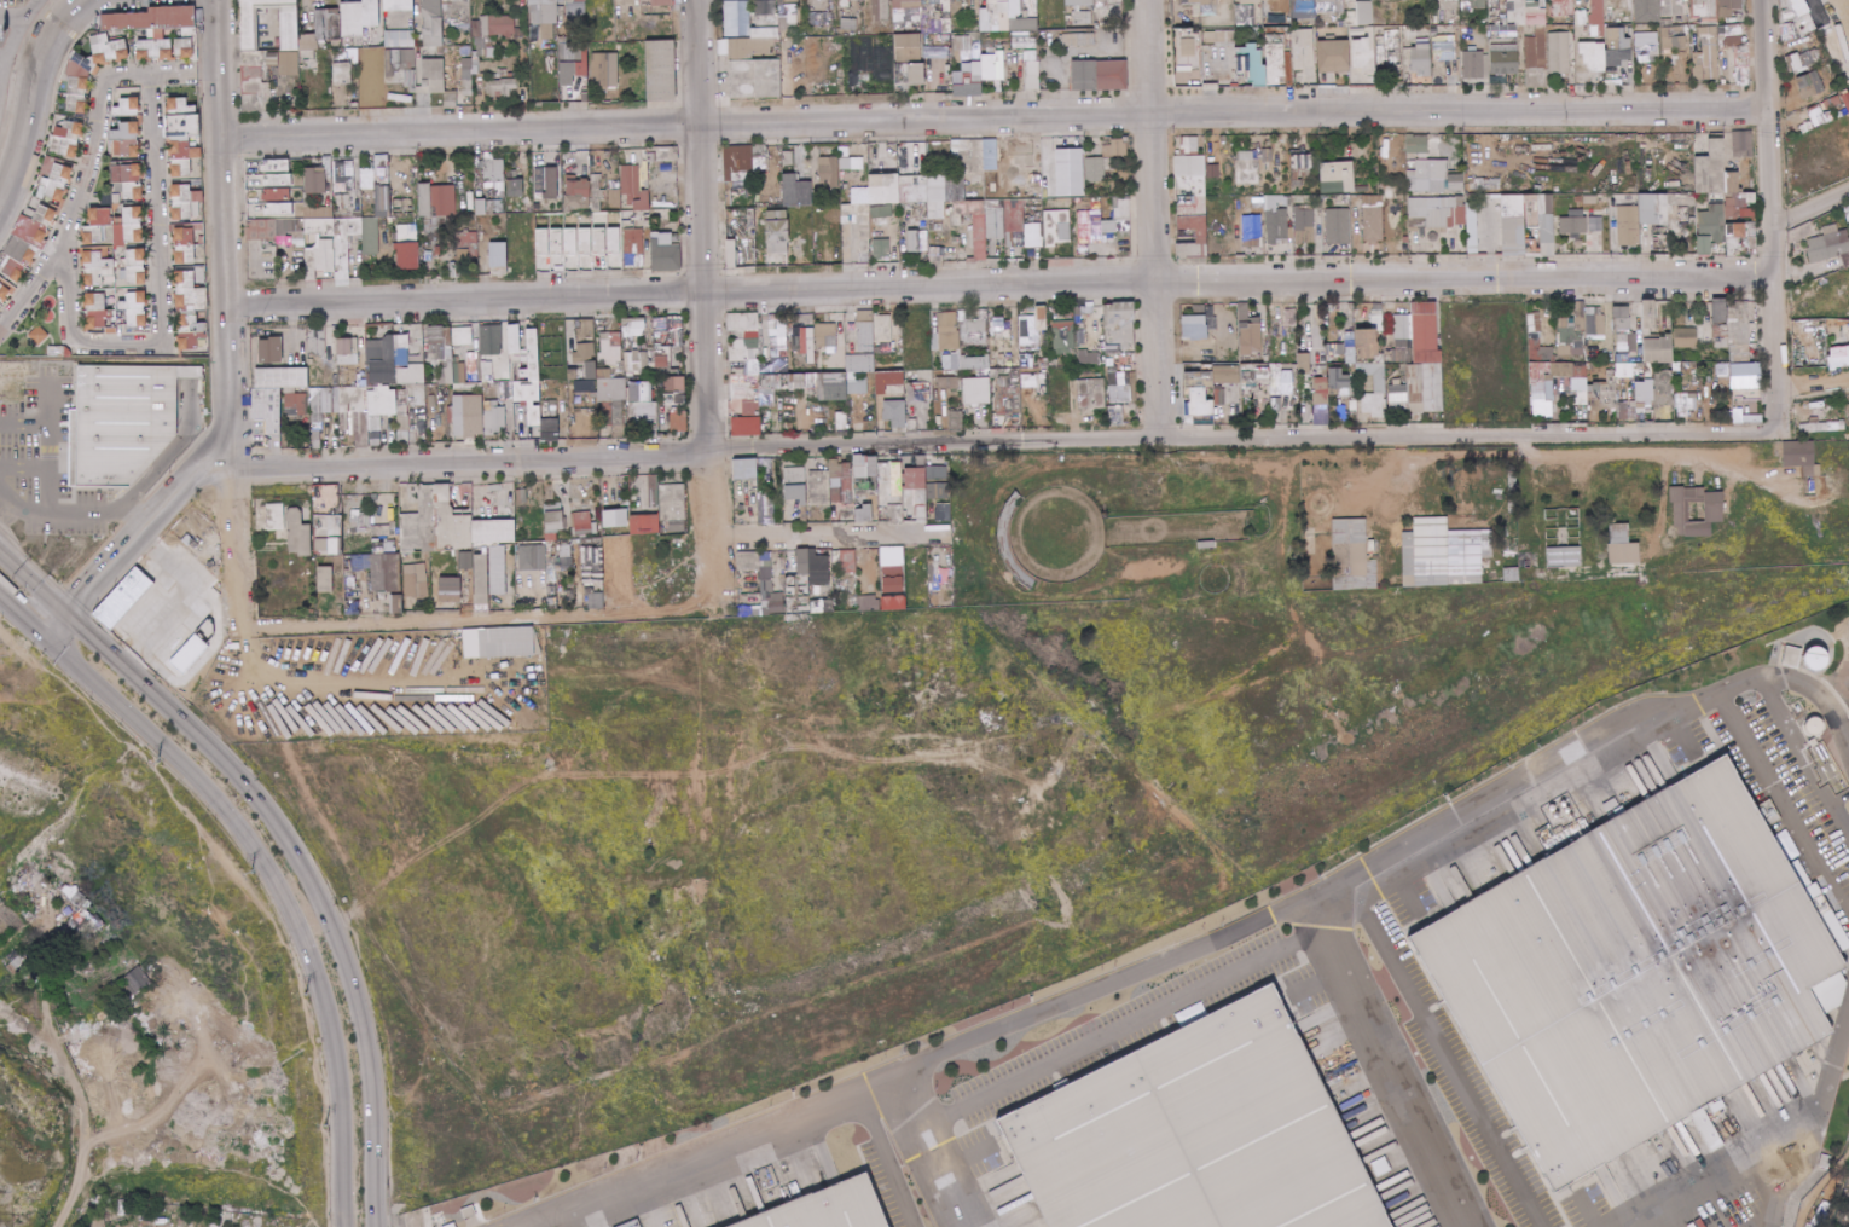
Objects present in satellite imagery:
power tower: (158, 762)
power tower: (306, 994)
power tower: (324, 1124)

